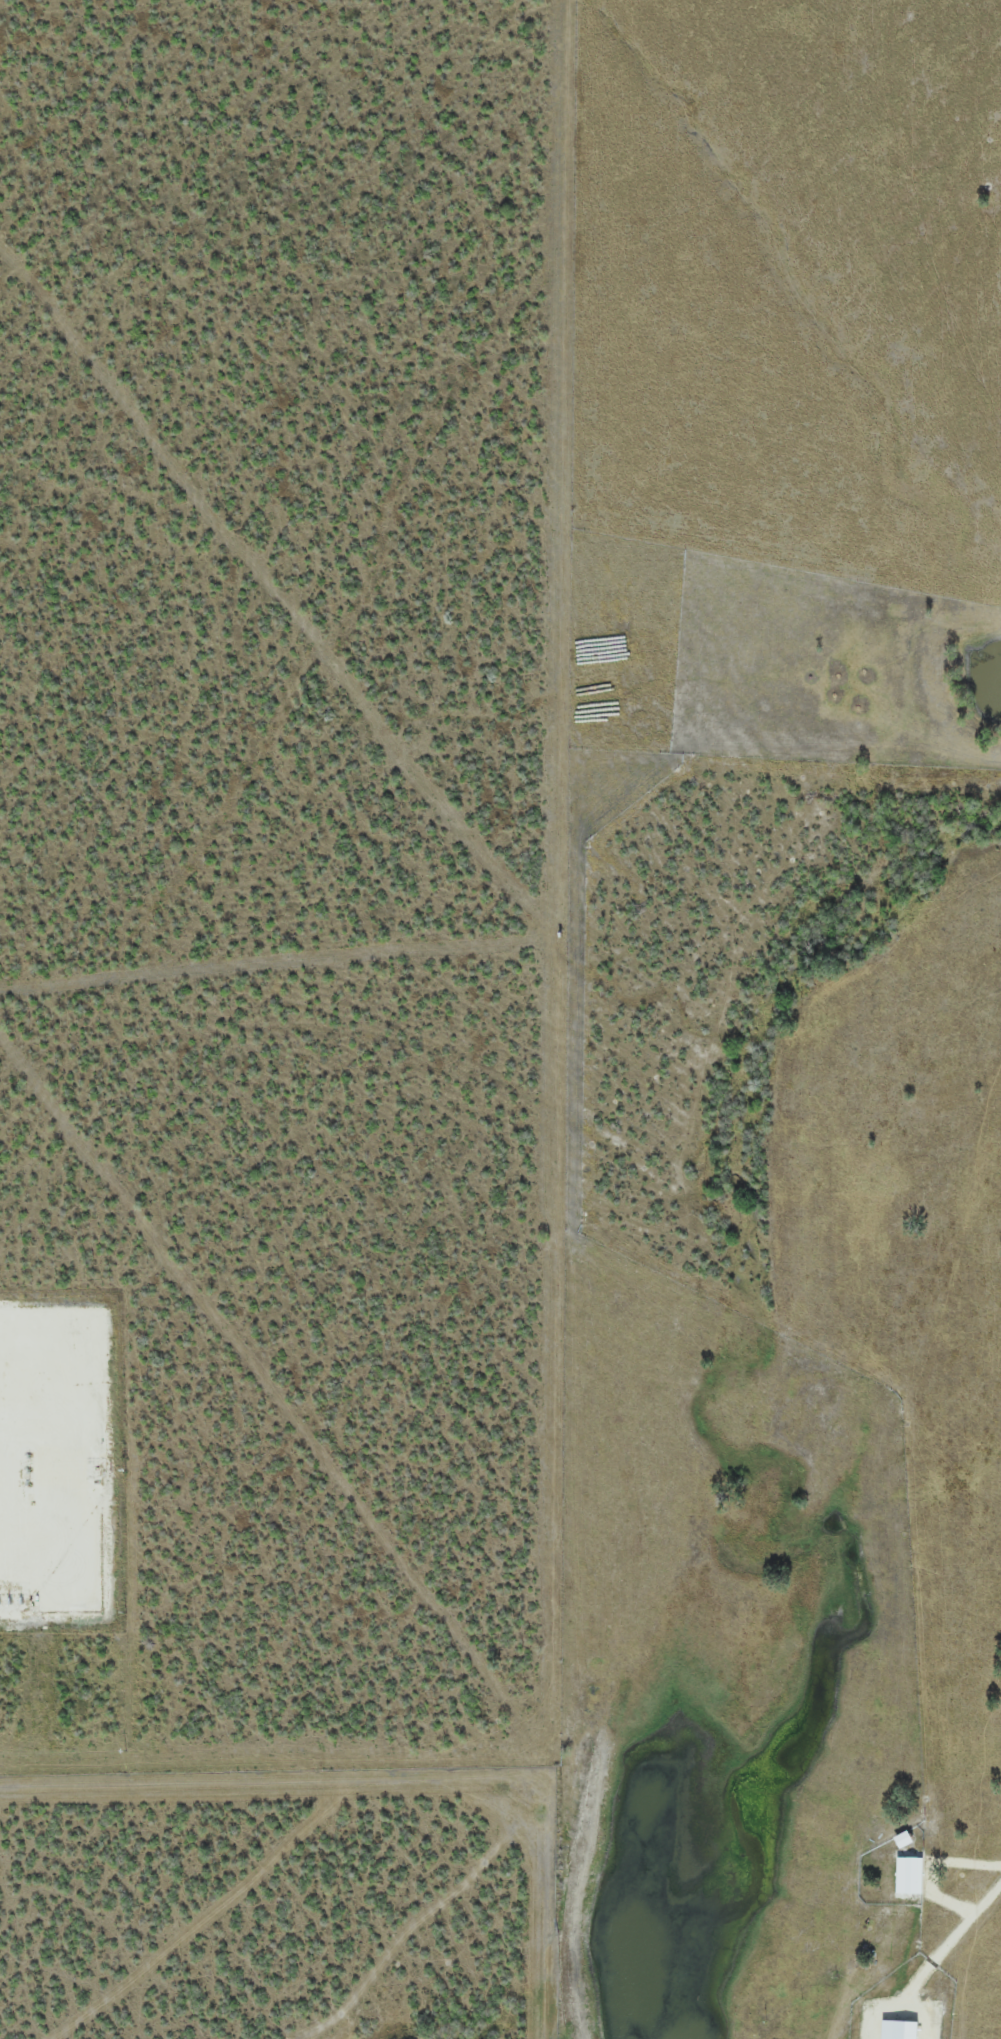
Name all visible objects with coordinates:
building: (903, 1839)
building: (909, 1874)
building: (900, 2029)

